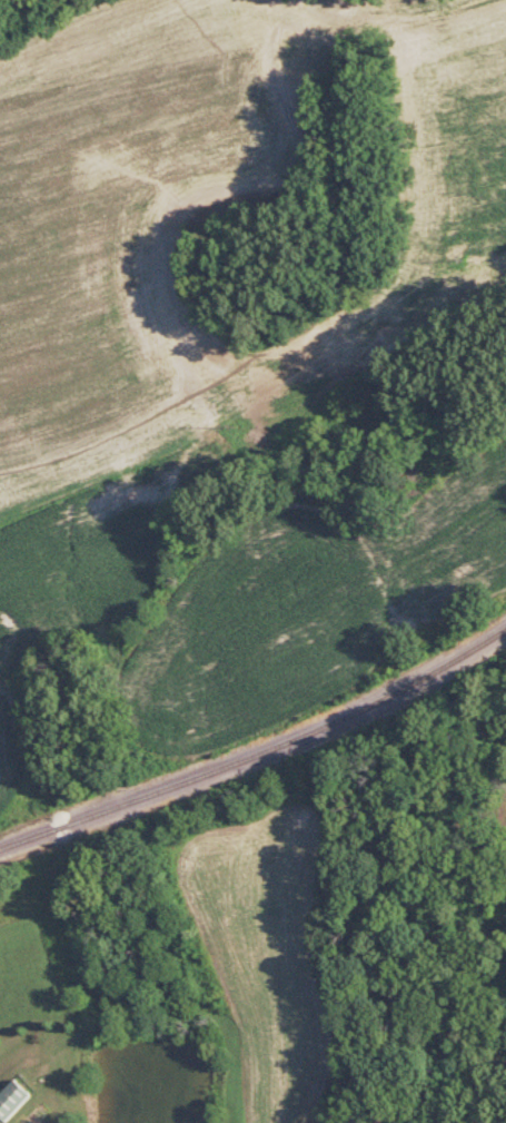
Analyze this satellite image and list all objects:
railway: (259, 752)
building: (10, 1096)

